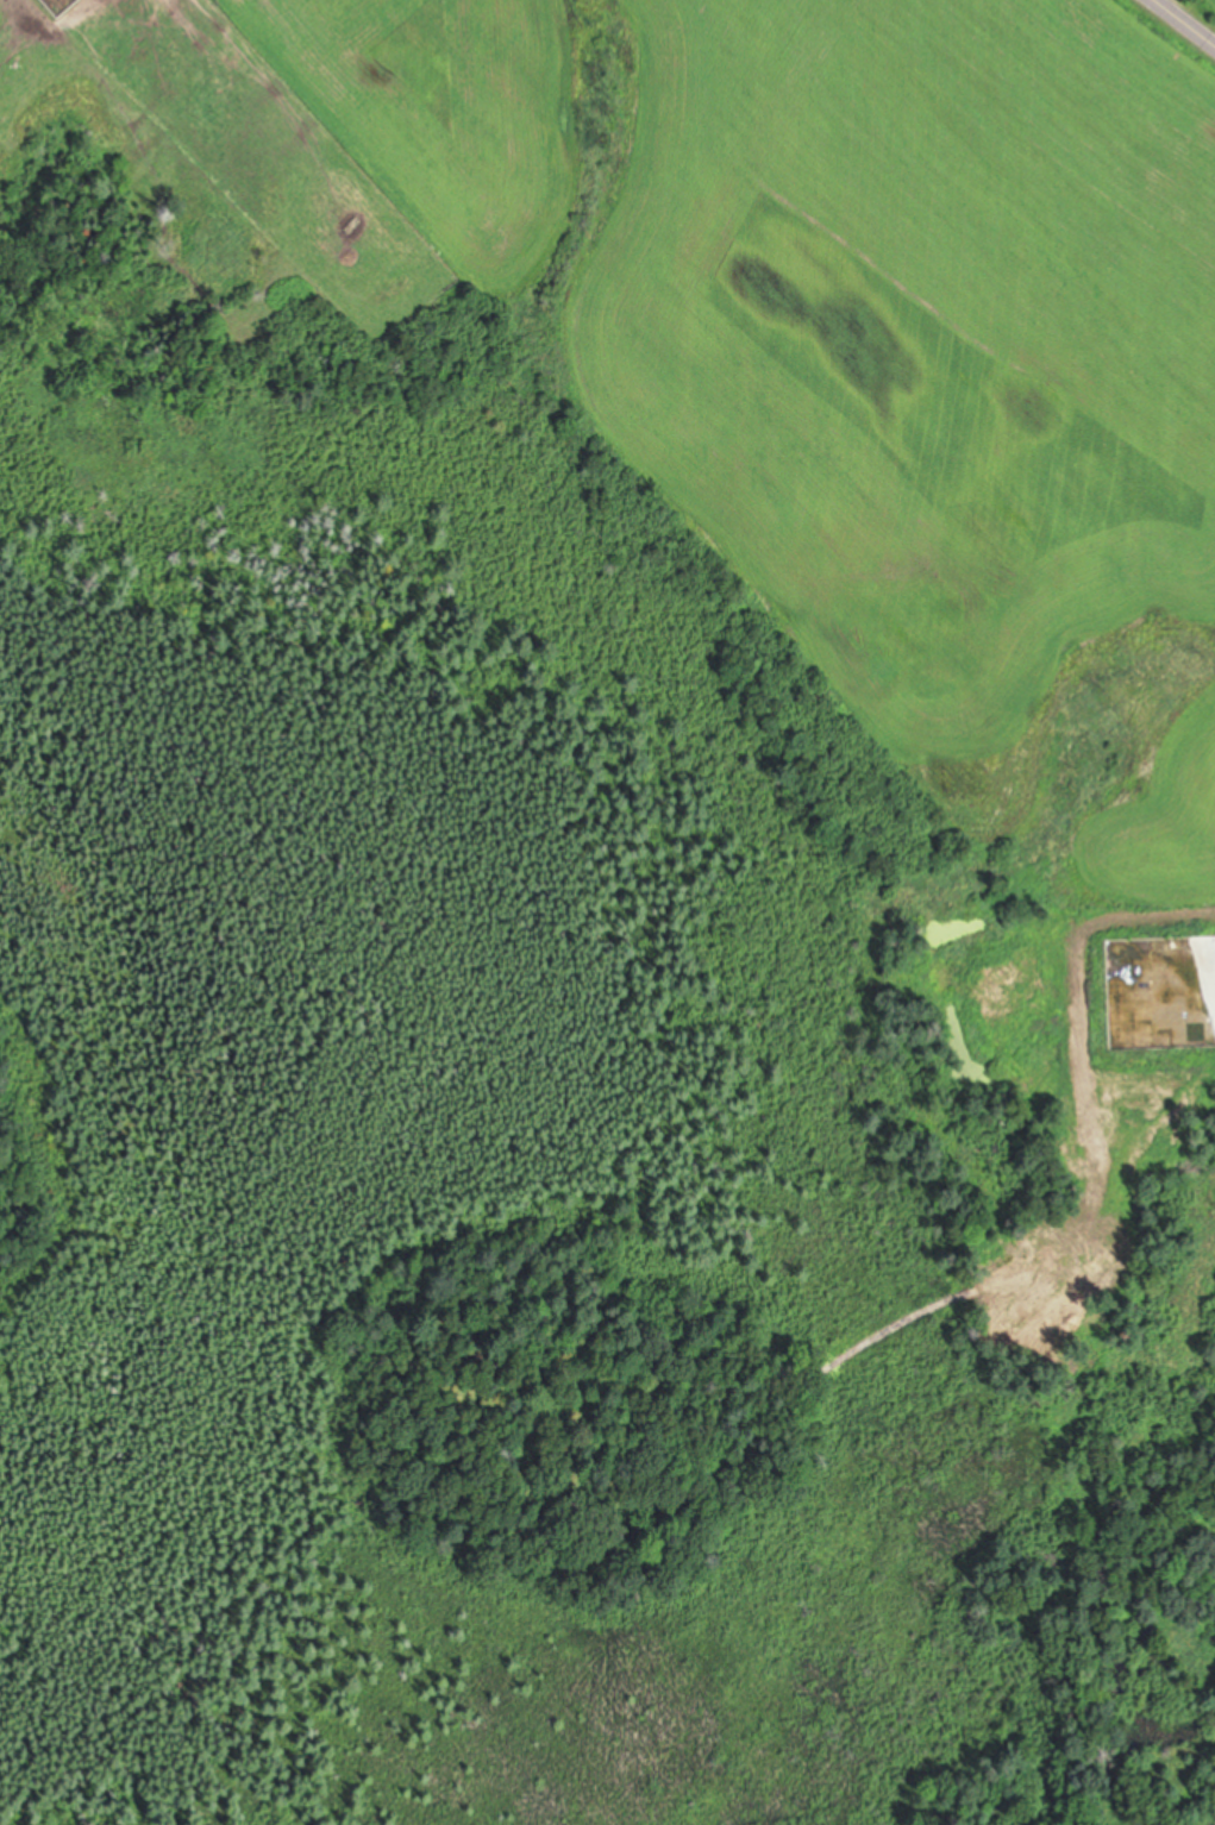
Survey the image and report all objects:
road: (1188, 19)

